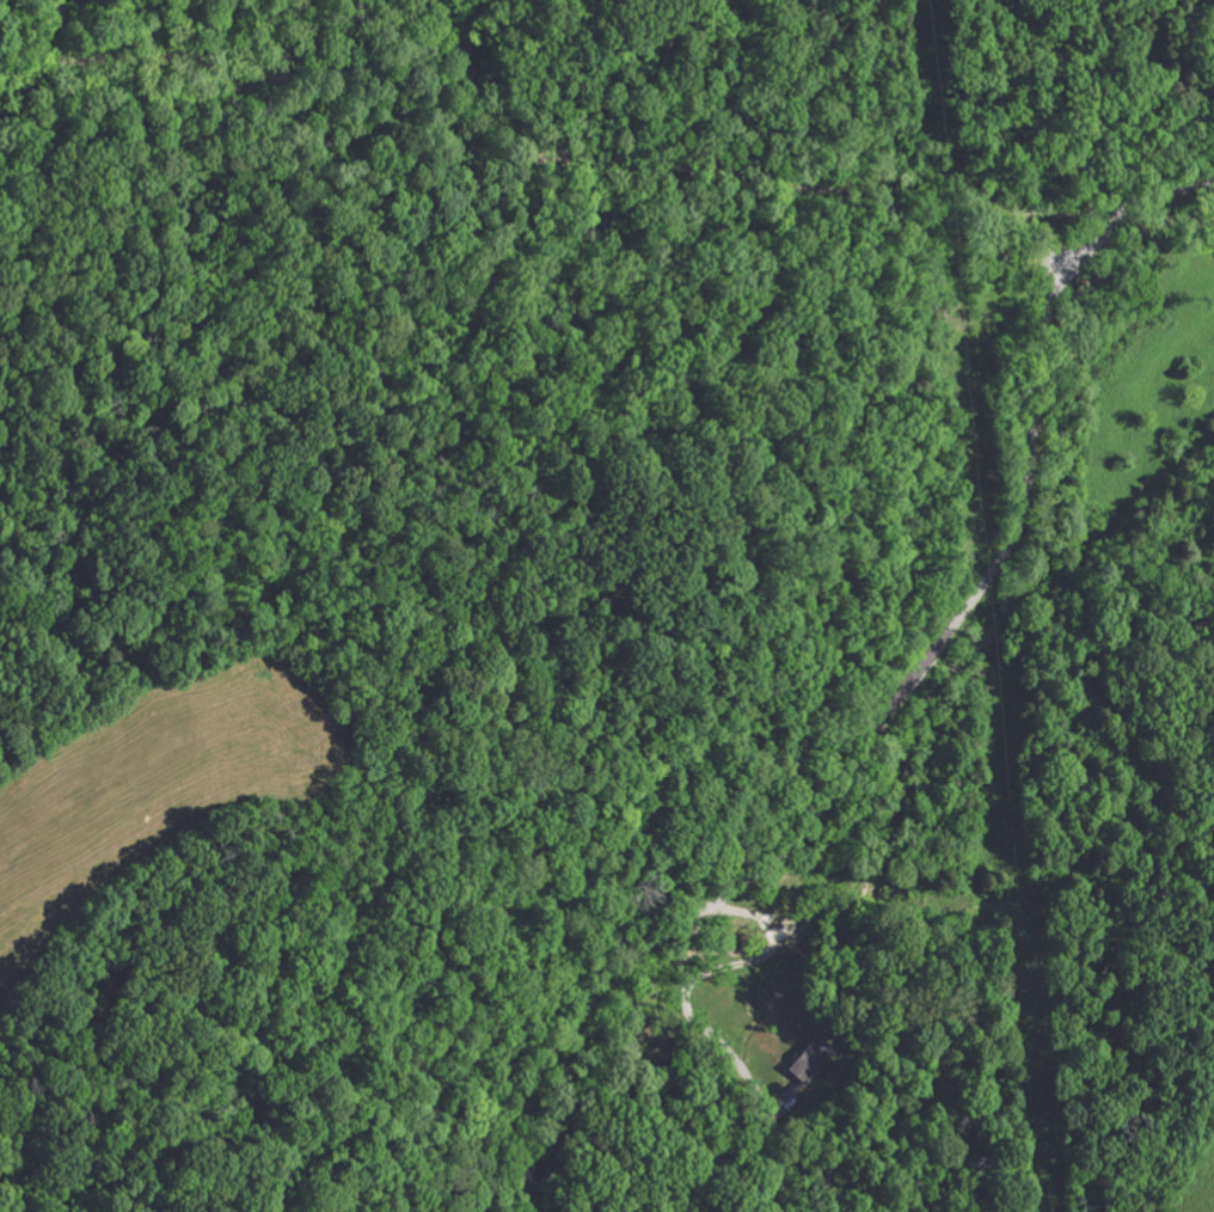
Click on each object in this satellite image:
road: (1151, 200)
road: (1066, 308)
road: (851, 763)
road: (713, 967)
building: (801, 1059)

